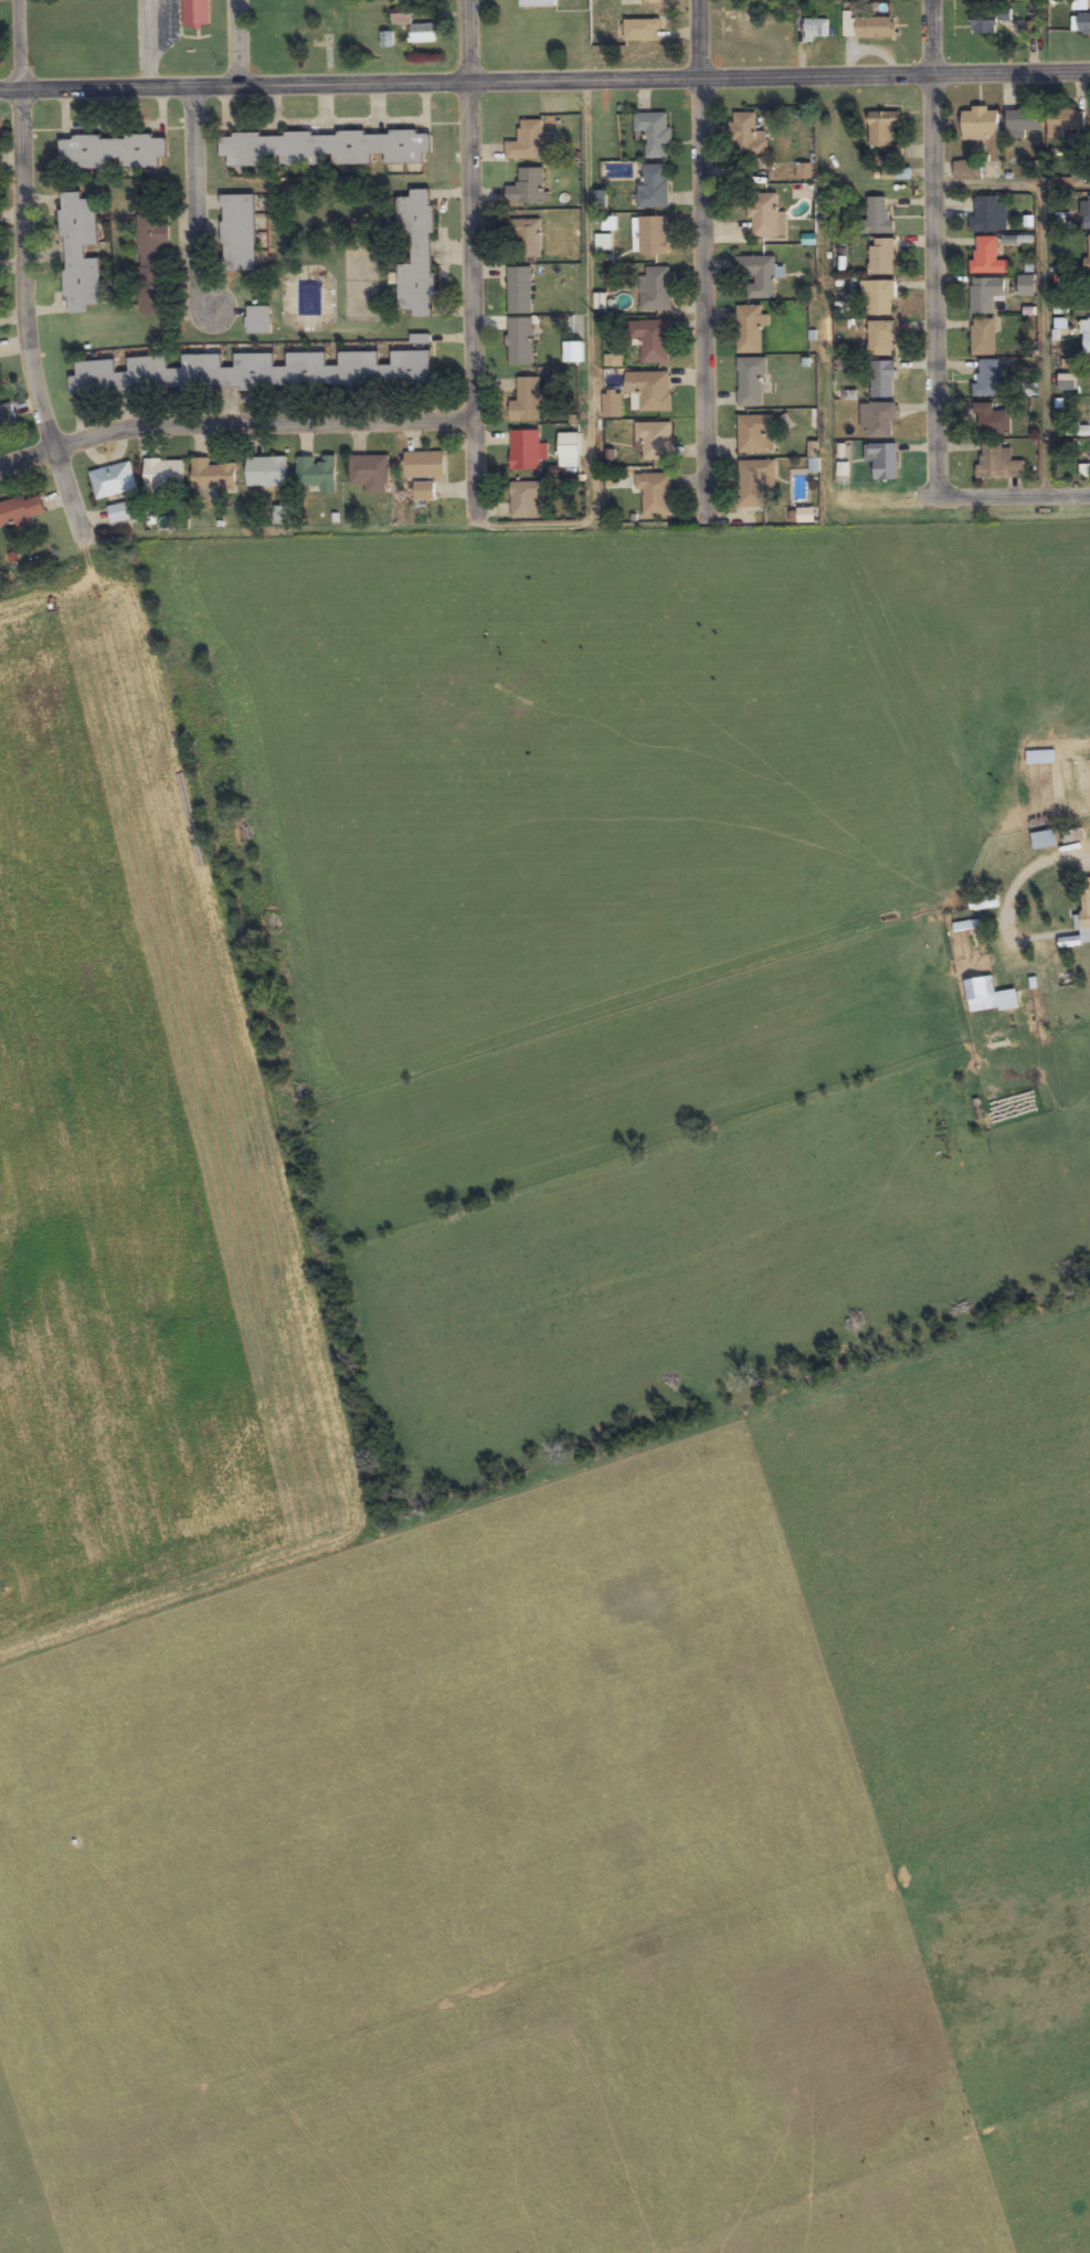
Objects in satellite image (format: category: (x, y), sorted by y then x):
building: (538, 3)
building: (195, 13)
building: (401, 18)
building: (987, 22)
building: (1081, 24)
building: (869, 29)
building: (642, 31)
building: (815, 31)
building: (424, 33)
building: (316, 34)
road: (243, 44)
road: (544, 82)
building: (1065, 121)
building: (1024, 123)
building: (981, 124)
building: (882, 128)
building: (655, 133)
building: (748, 137)
building: (527, 141)
building: (322, 148)
building: (112, 152)
building: (969, 170)
building: (654, 186)
road: (1012, 186)
building: (528, 187)
road: (194, 200)
building: (1087, 213)
building: (988, 214)
building: (766, 216)
building: (877, 216)
building: (242, 233)
building: (653, 235)
building: (525, 237)
road: (933, 241)
road: (706, 244)
building: (416, 253)
building: (1088, 253)
building: (80, 254)
road: (474, 256)
building: (881, 256)
building: (987, 257)
building: (151, 264)
road: (20, 267)
building: (759, 275)
building: (1026, 286)
building: (656, 289)
building: (519, 290)
building: (986, 295)
building: (877, 297)
building: (257, 319)
building: (749, 329)
road: (1044, 335)
building: (1087, 336)
building: (983, 337)
building: (881, 338)
building: (652, 339)
building: (519, 341)
building: (574, 351)
building: (250, 372)
building: (988, 378)
building: (882, 379)
building: (751, 381)
building: (649, 390)
building: (527, 401)
building: (7, 419)
building: (881, 420)
building: (992, 421)
road: (234, 422)
building: (755, 433)
building: (656, 441)
building: (525, 449)
building: (882, 459)
building: (998, 463)
building: (424, 465)
building: (369, 470)
building: (265, 472)
building: (315, 473)
building: (163, 475)
building: (212, 475)
building: (114, 480)
building: (754, 482)
road: (909, 487)
building: (423, 491)
building: (655, 494)
building: (526, 499)
building: (21, 511)
building: (120, 512)
road: (1070, 614)
building: (1040, 758)
building: (1075, 836)
building: (1045, 839)
building: (1086, 910)
building: (969, 925)
building: (990, 995)

